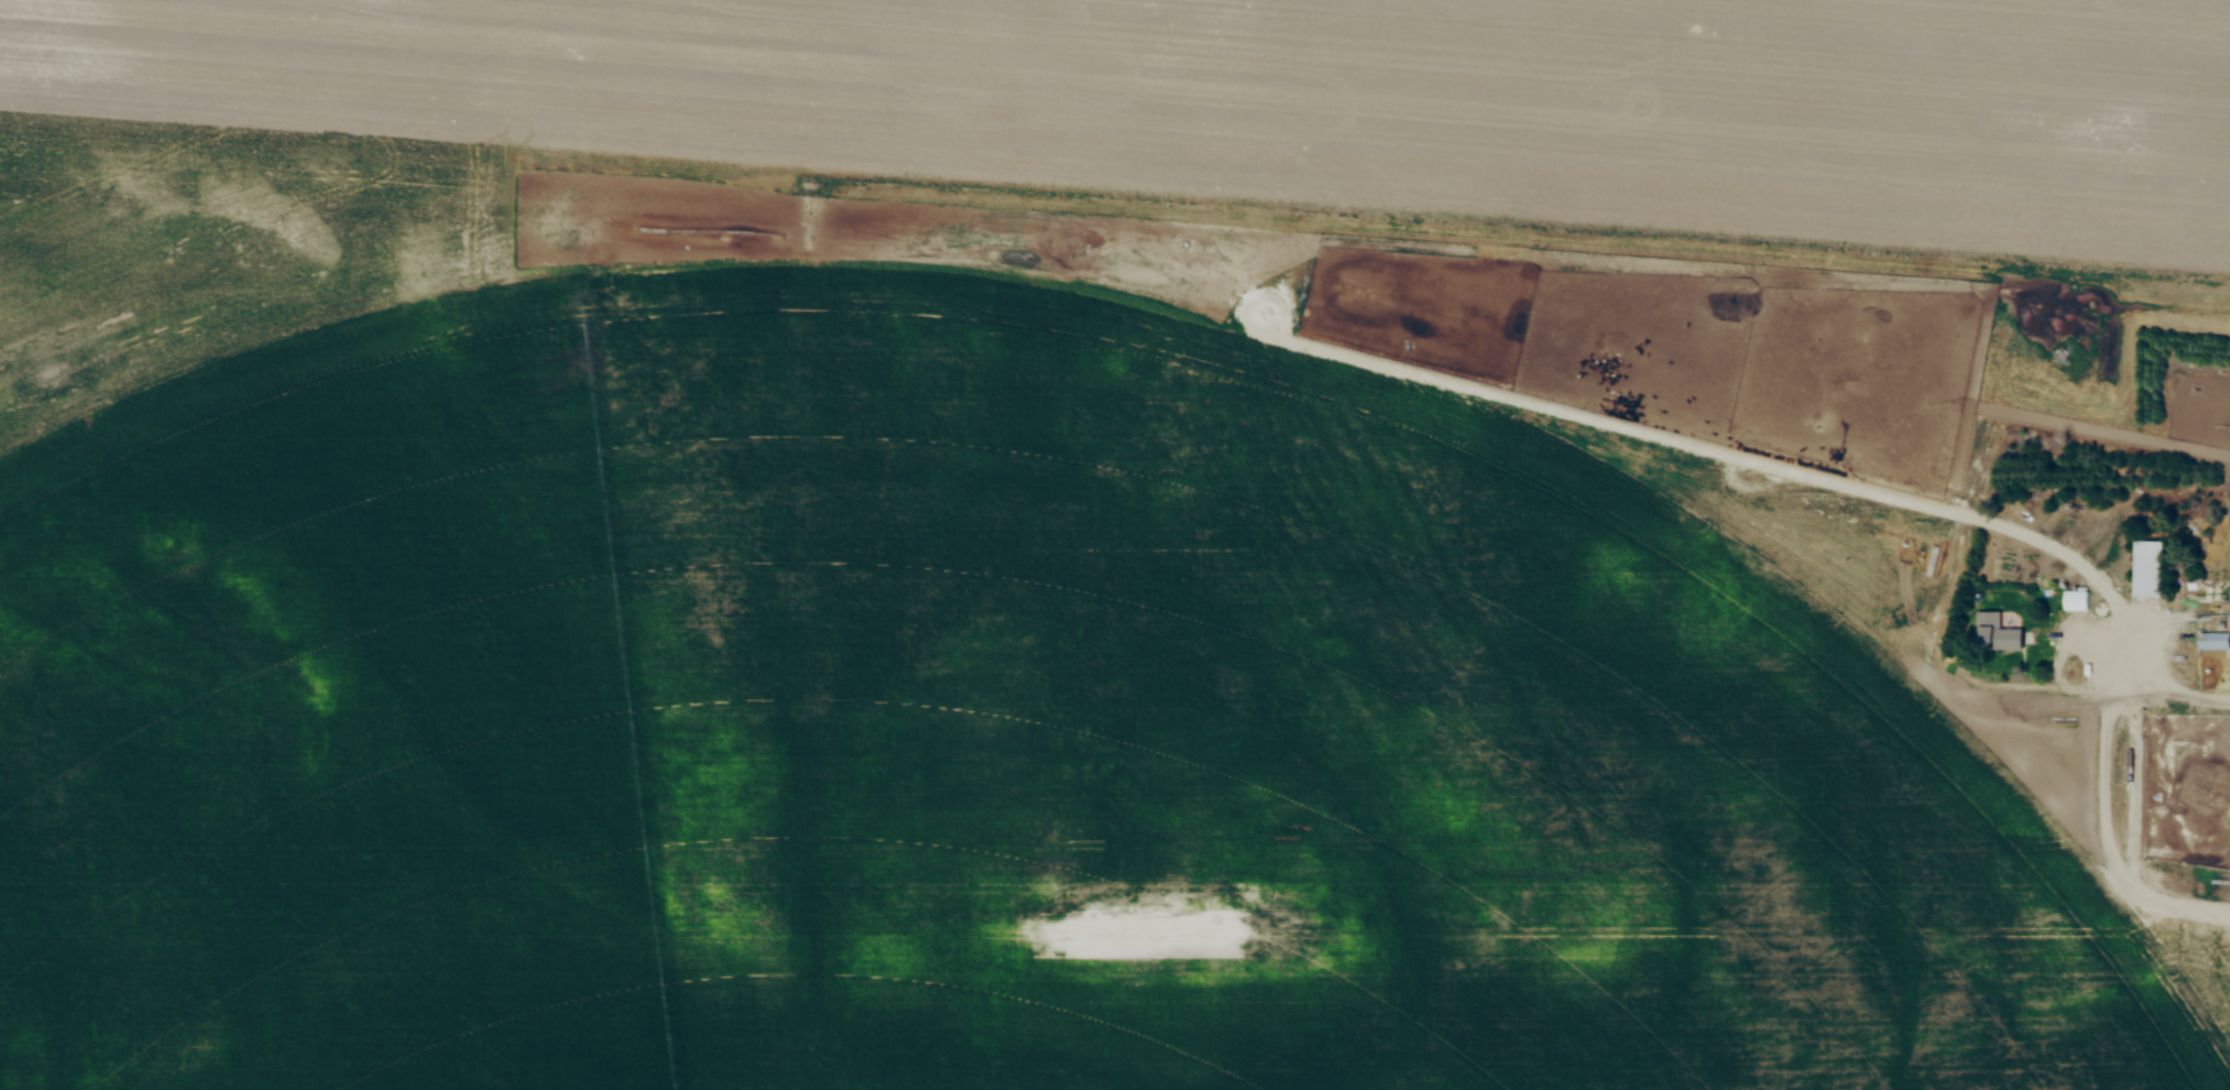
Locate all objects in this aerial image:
building: (2149, 569)
building: (2076, 600)
building: (1997, 632)
building: (2213, 640)
road: (2101, 815)

